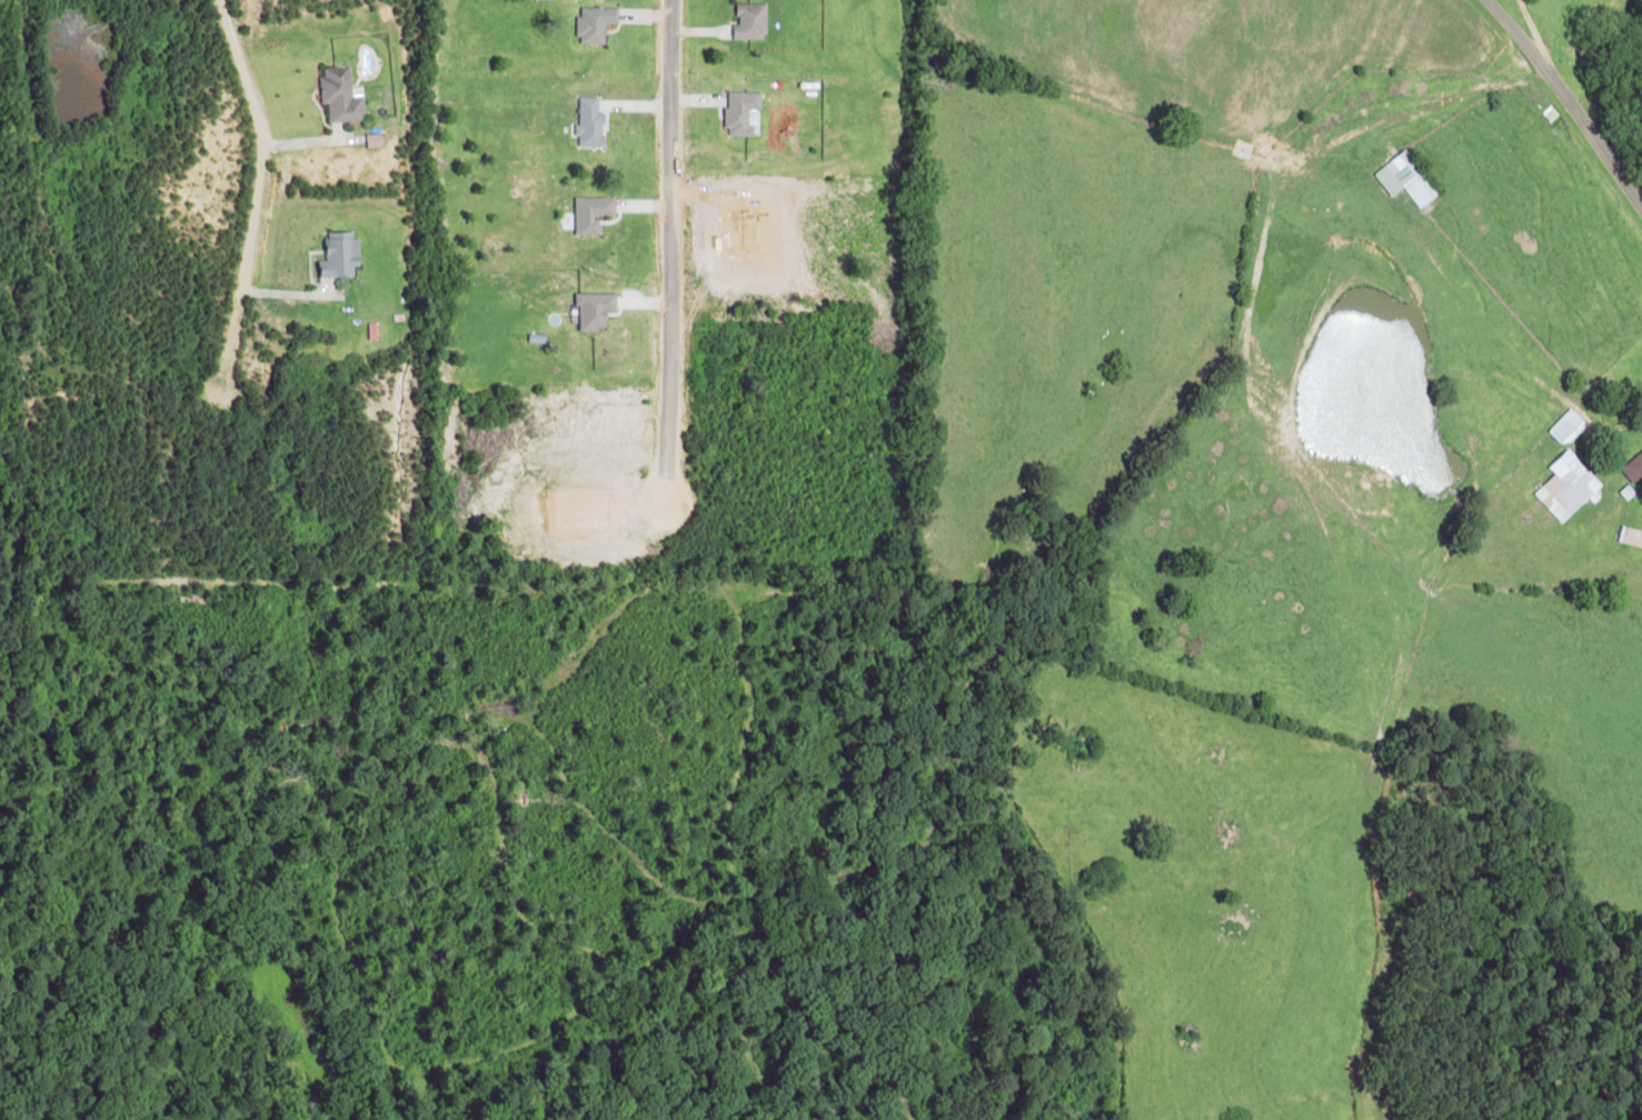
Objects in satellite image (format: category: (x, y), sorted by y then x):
building: (752, 20)
building: (596, 22)
building: (342, 94)
building: (743, 112)
road: (1541, 116)
building: (591, 121)
building: (1406, 179)
building: (593, 213)
building: (341, 254)
building: (595, 309)
building: (1568, 427)
building: (1633, 467)
building: (1568, 486)
building: (1631, 536)

